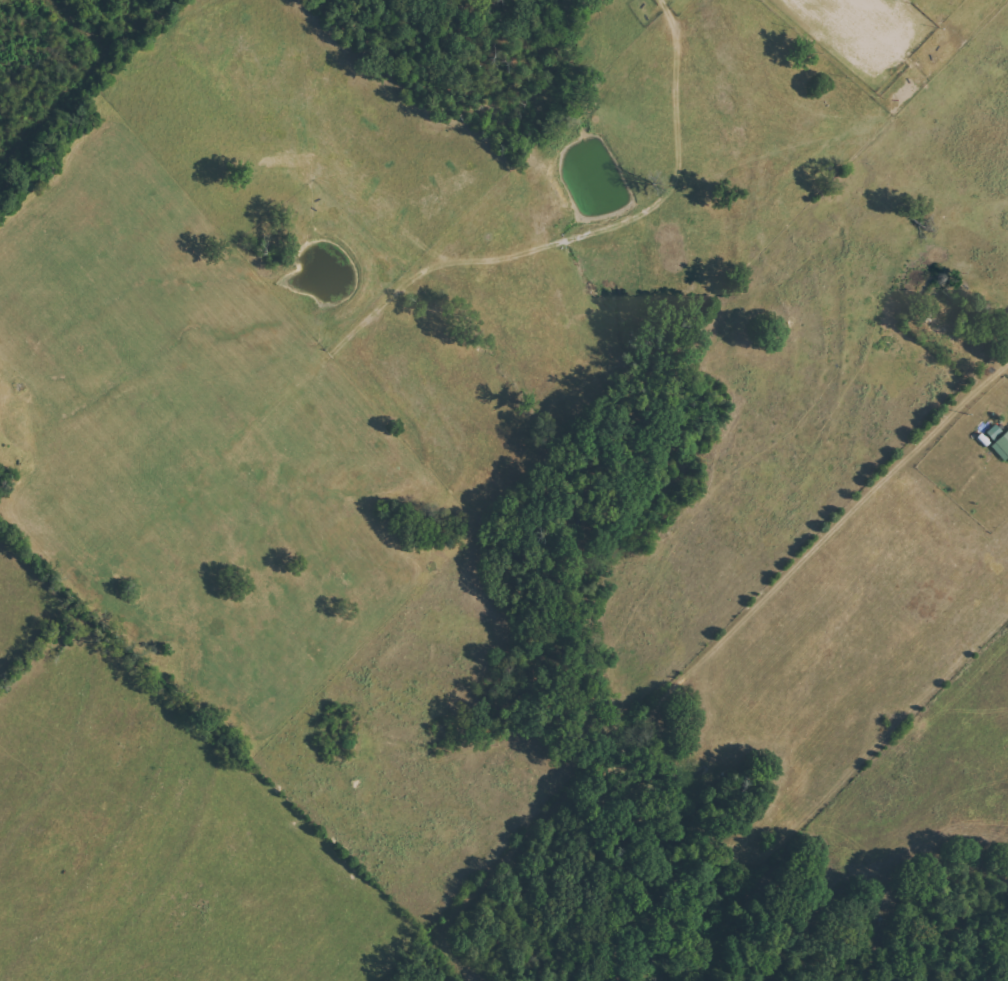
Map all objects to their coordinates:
building: (1000, 442)

